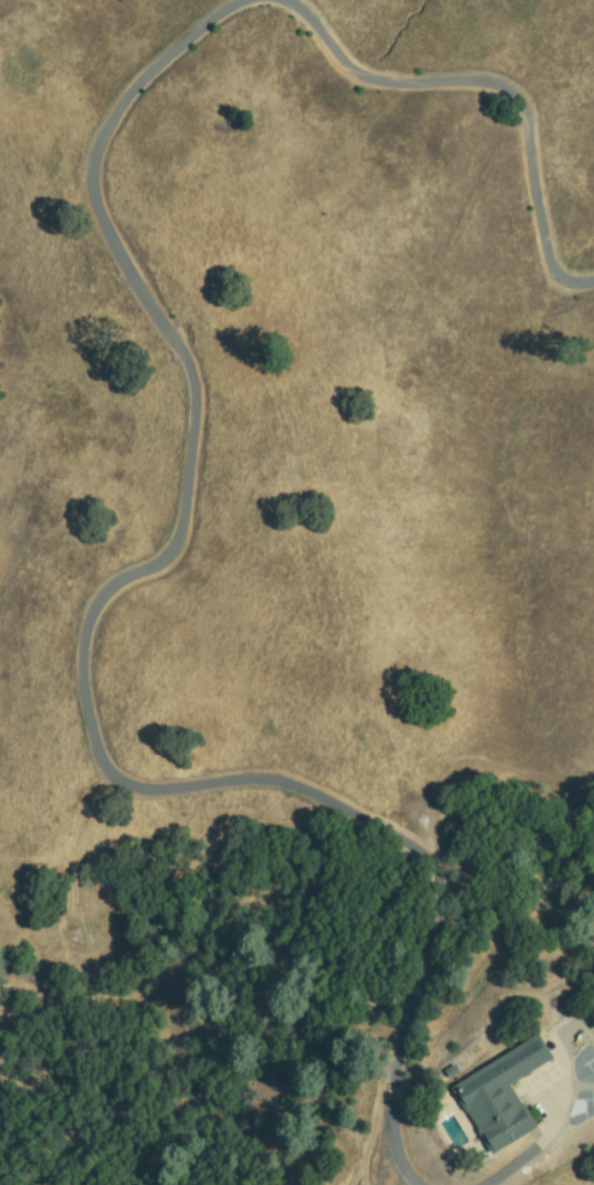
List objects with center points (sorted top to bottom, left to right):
building: (503, 1095)

